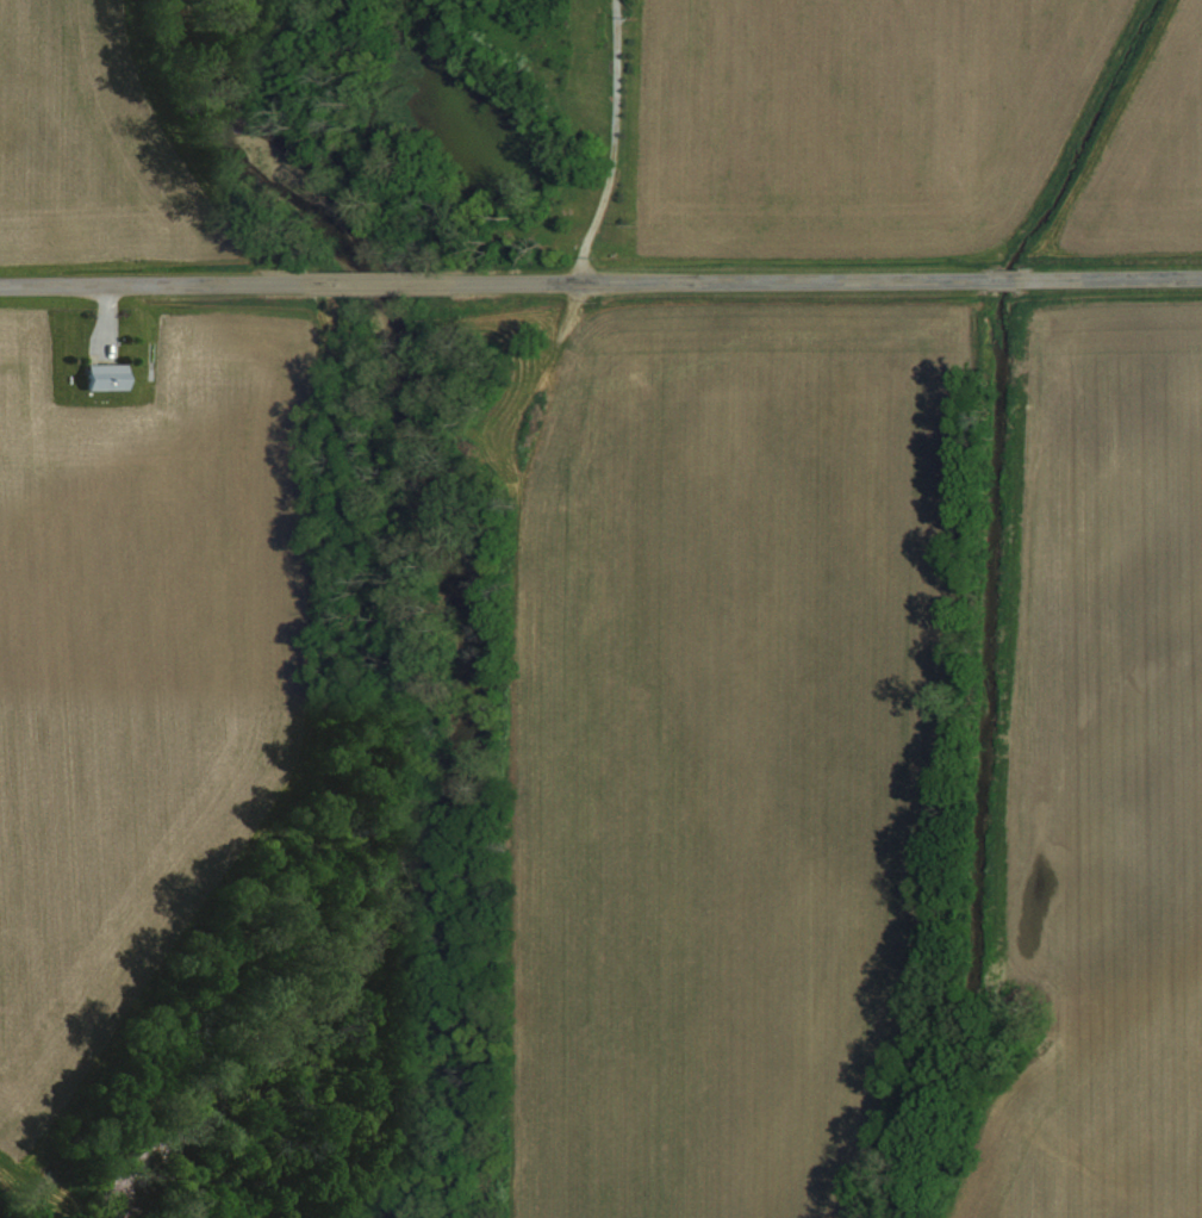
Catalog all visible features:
road: (612, 143)
road: (1109, 280)
road: (711, 281)
road: (373, 282)
road: (999, 282)
road: (152, 284)
building: (104, 375)

